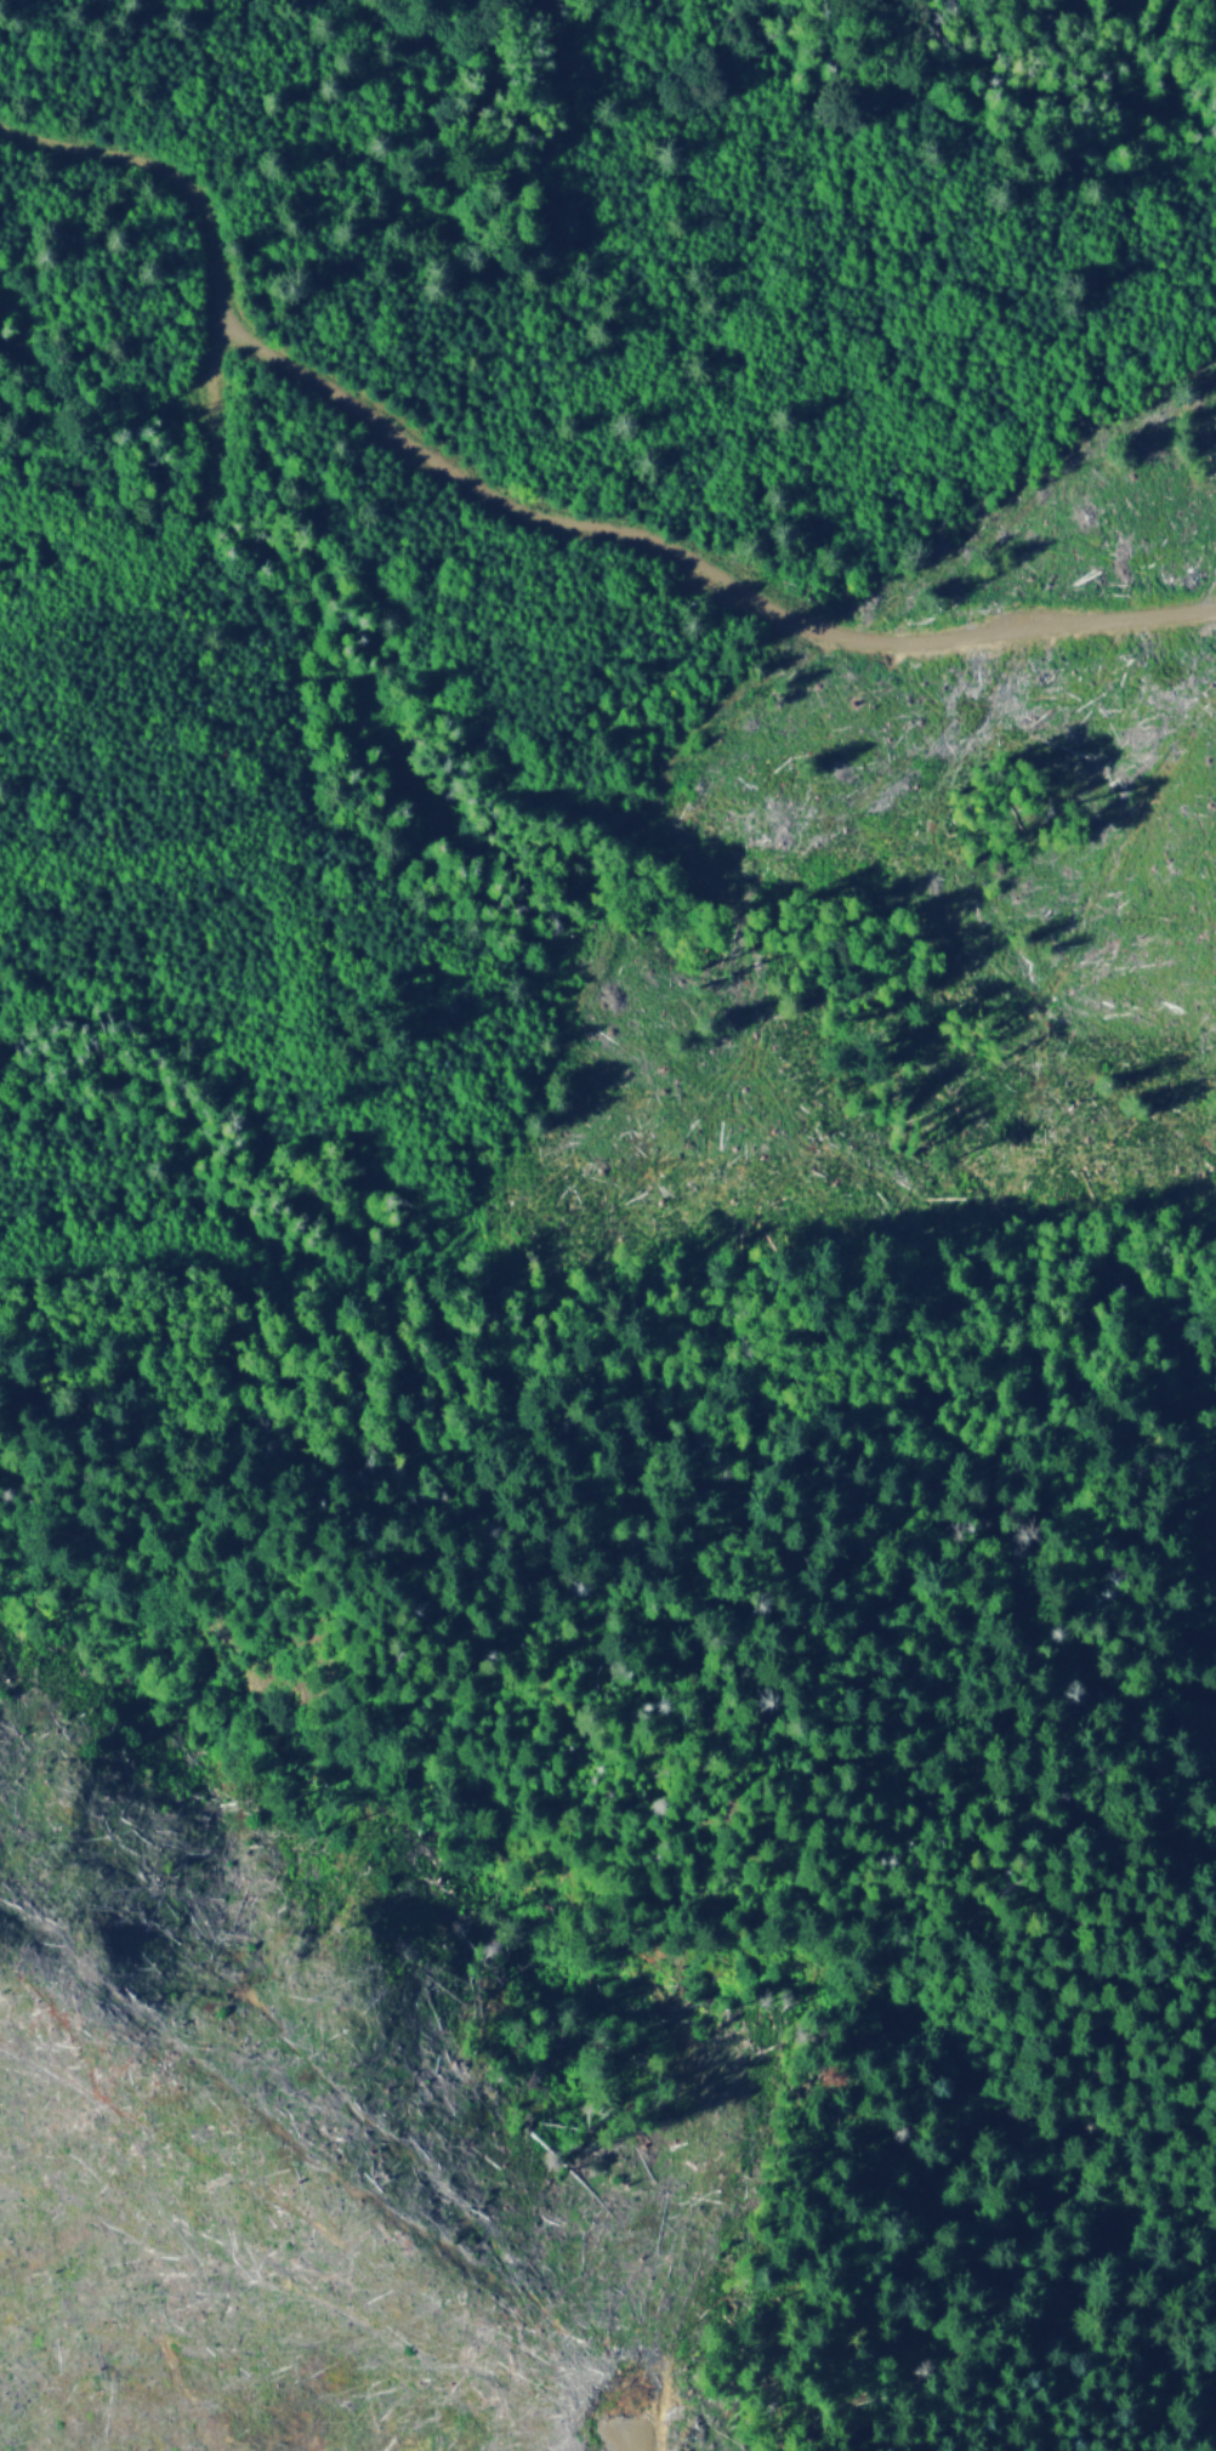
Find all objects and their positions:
road: (221, 300)

